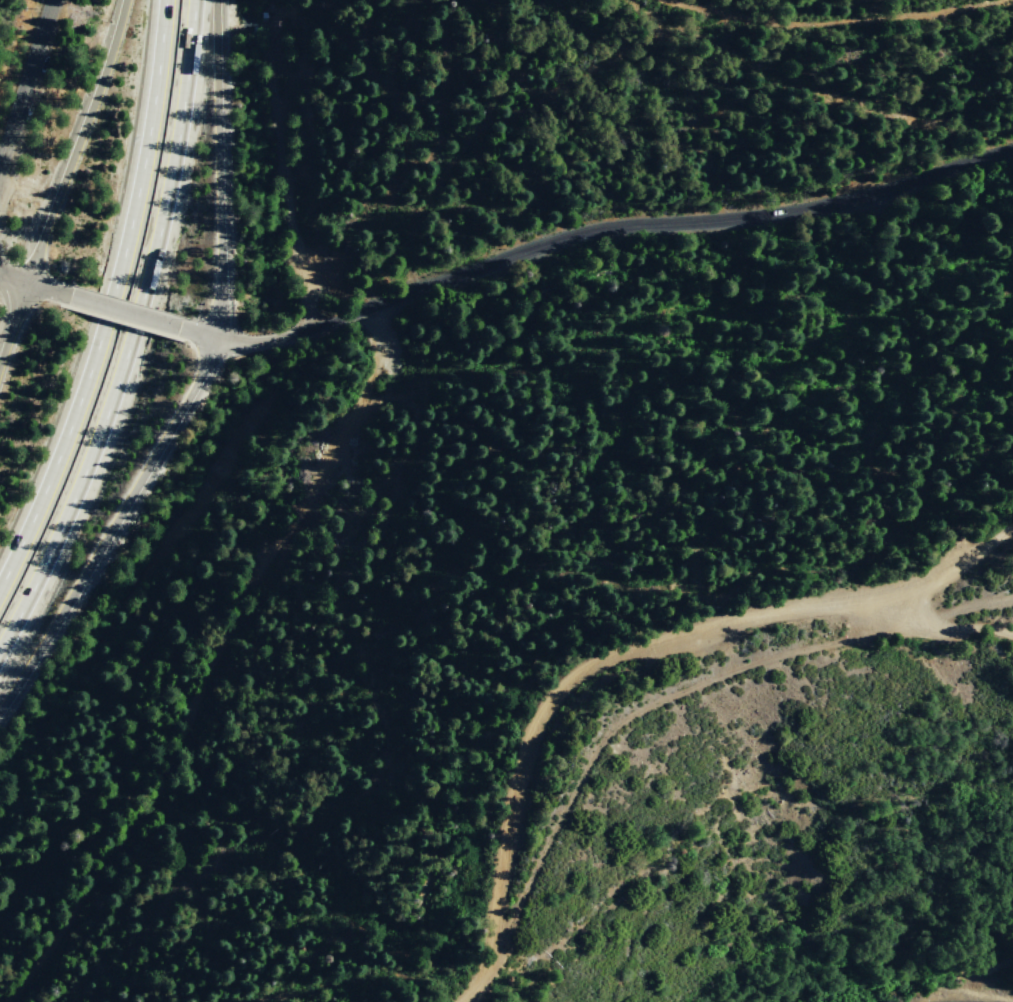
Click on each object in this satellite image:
road: (822, 44)
road: (24, 78)
road: (76, 141)
road: (218, 169)
road: (606, 225)
road: (33, 285)
road: (109, 300)
road: (122, 311)
road: (13, 321)
road: (195, 332)
road: (131, 334)
road: (112, 526)
road: (948, 625)
road: (216, 647)
road: (624, 650)

